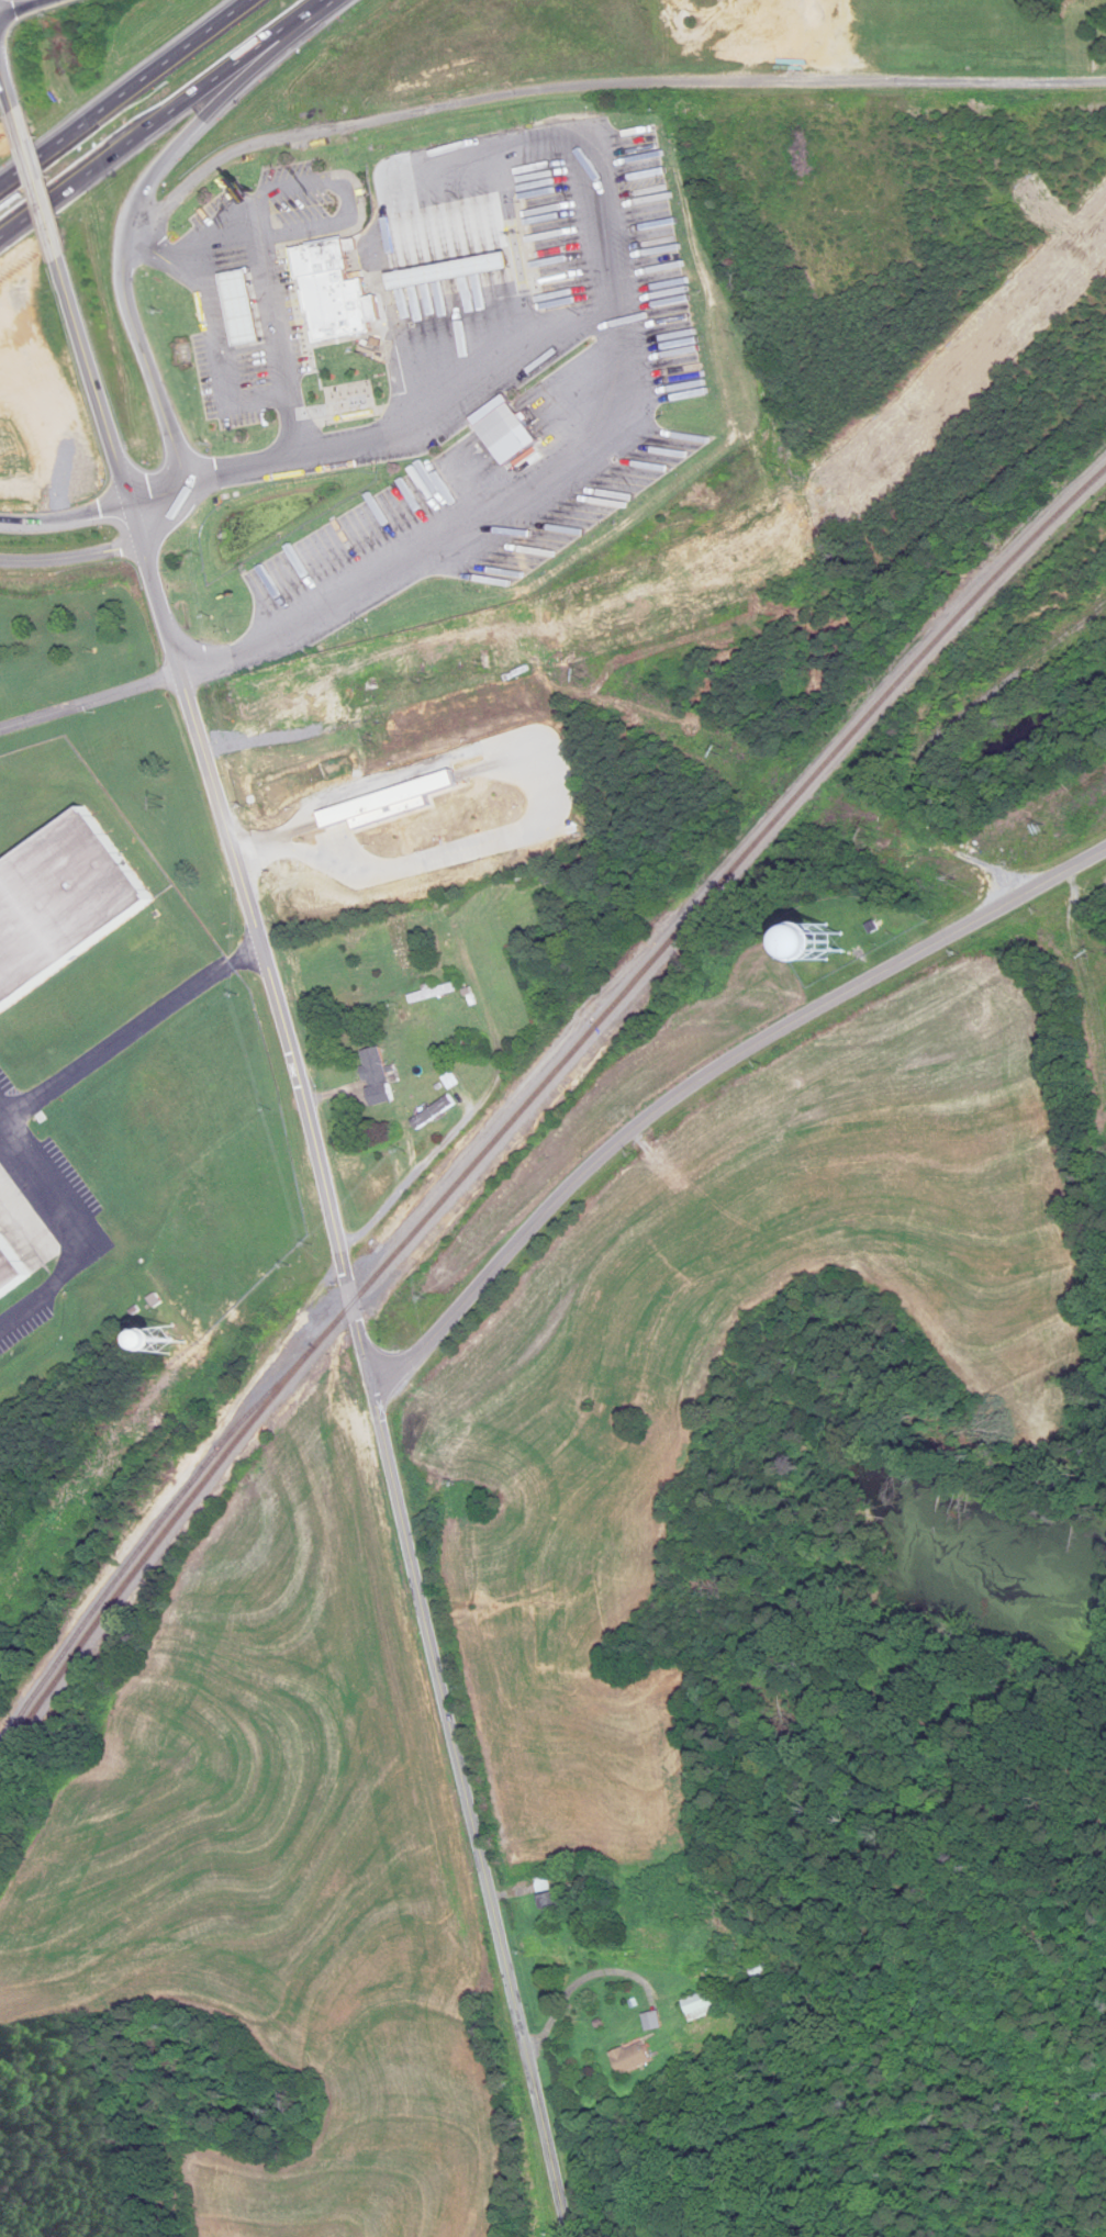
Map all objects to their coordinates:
road: (122, 91)
road: (164, 120)
road: (237, 166)
road: (344, 184)
road: (14, 217)
road: (225, 256)
building: (448, 271)
building: (329, 290)
building: (241, 307)
road: (22, 325)
road: (607, 362)
building: (501, 425)
road: (100, 499)
road: (701, 575)
road: (72, 669)
building: (319, 703)
road: (46, 714)
road: (223, 851)
building: (62, 904)
railway: (701, 904)
water tower: (827, 940)
building: (400, 947)
building: (826, 947)
road: (135, 1055)
building: (376, 1077)
road: (705, 1081)
road: (447, 1141)
road: (67, 1222)
building: (10, 1270)
water tower: (171, 1341)
building: (167, 1345)
railway: (271, 1405)
railway: (147, 1543)
road: (423, 1603)
railway: (107, 1618)
building: (555, 1902)
building: (764, 1969)
building: (706, 2004)
building: (633, 2058)

